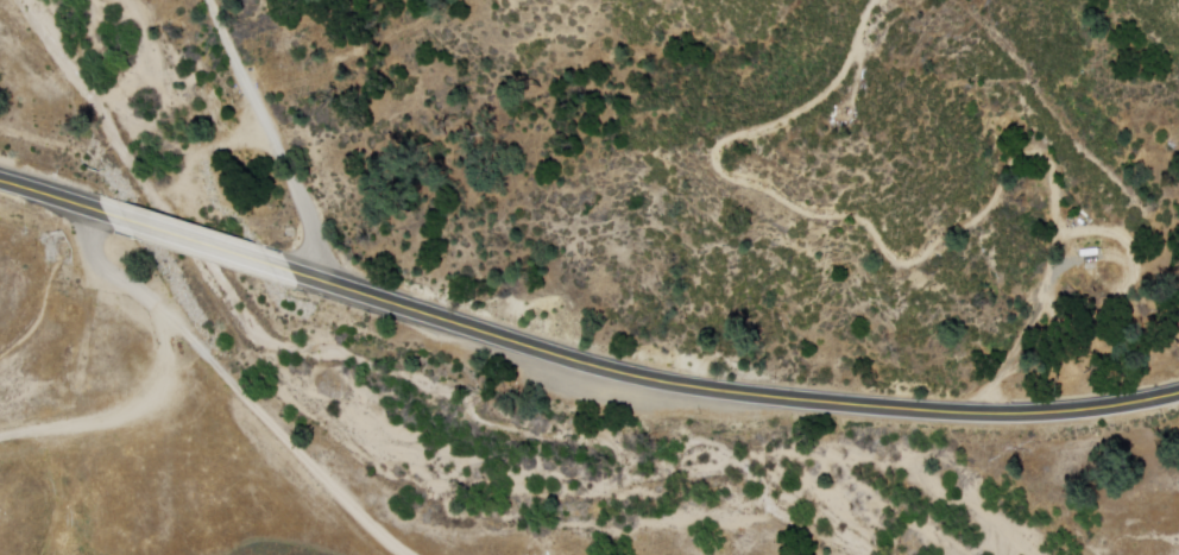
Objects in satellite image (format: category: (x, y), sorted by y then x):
road: (269, 138)
road: (52, 197)
road: (191, 240)
road: (160, 360)
road: (720, 390)
road: (277, 430)

